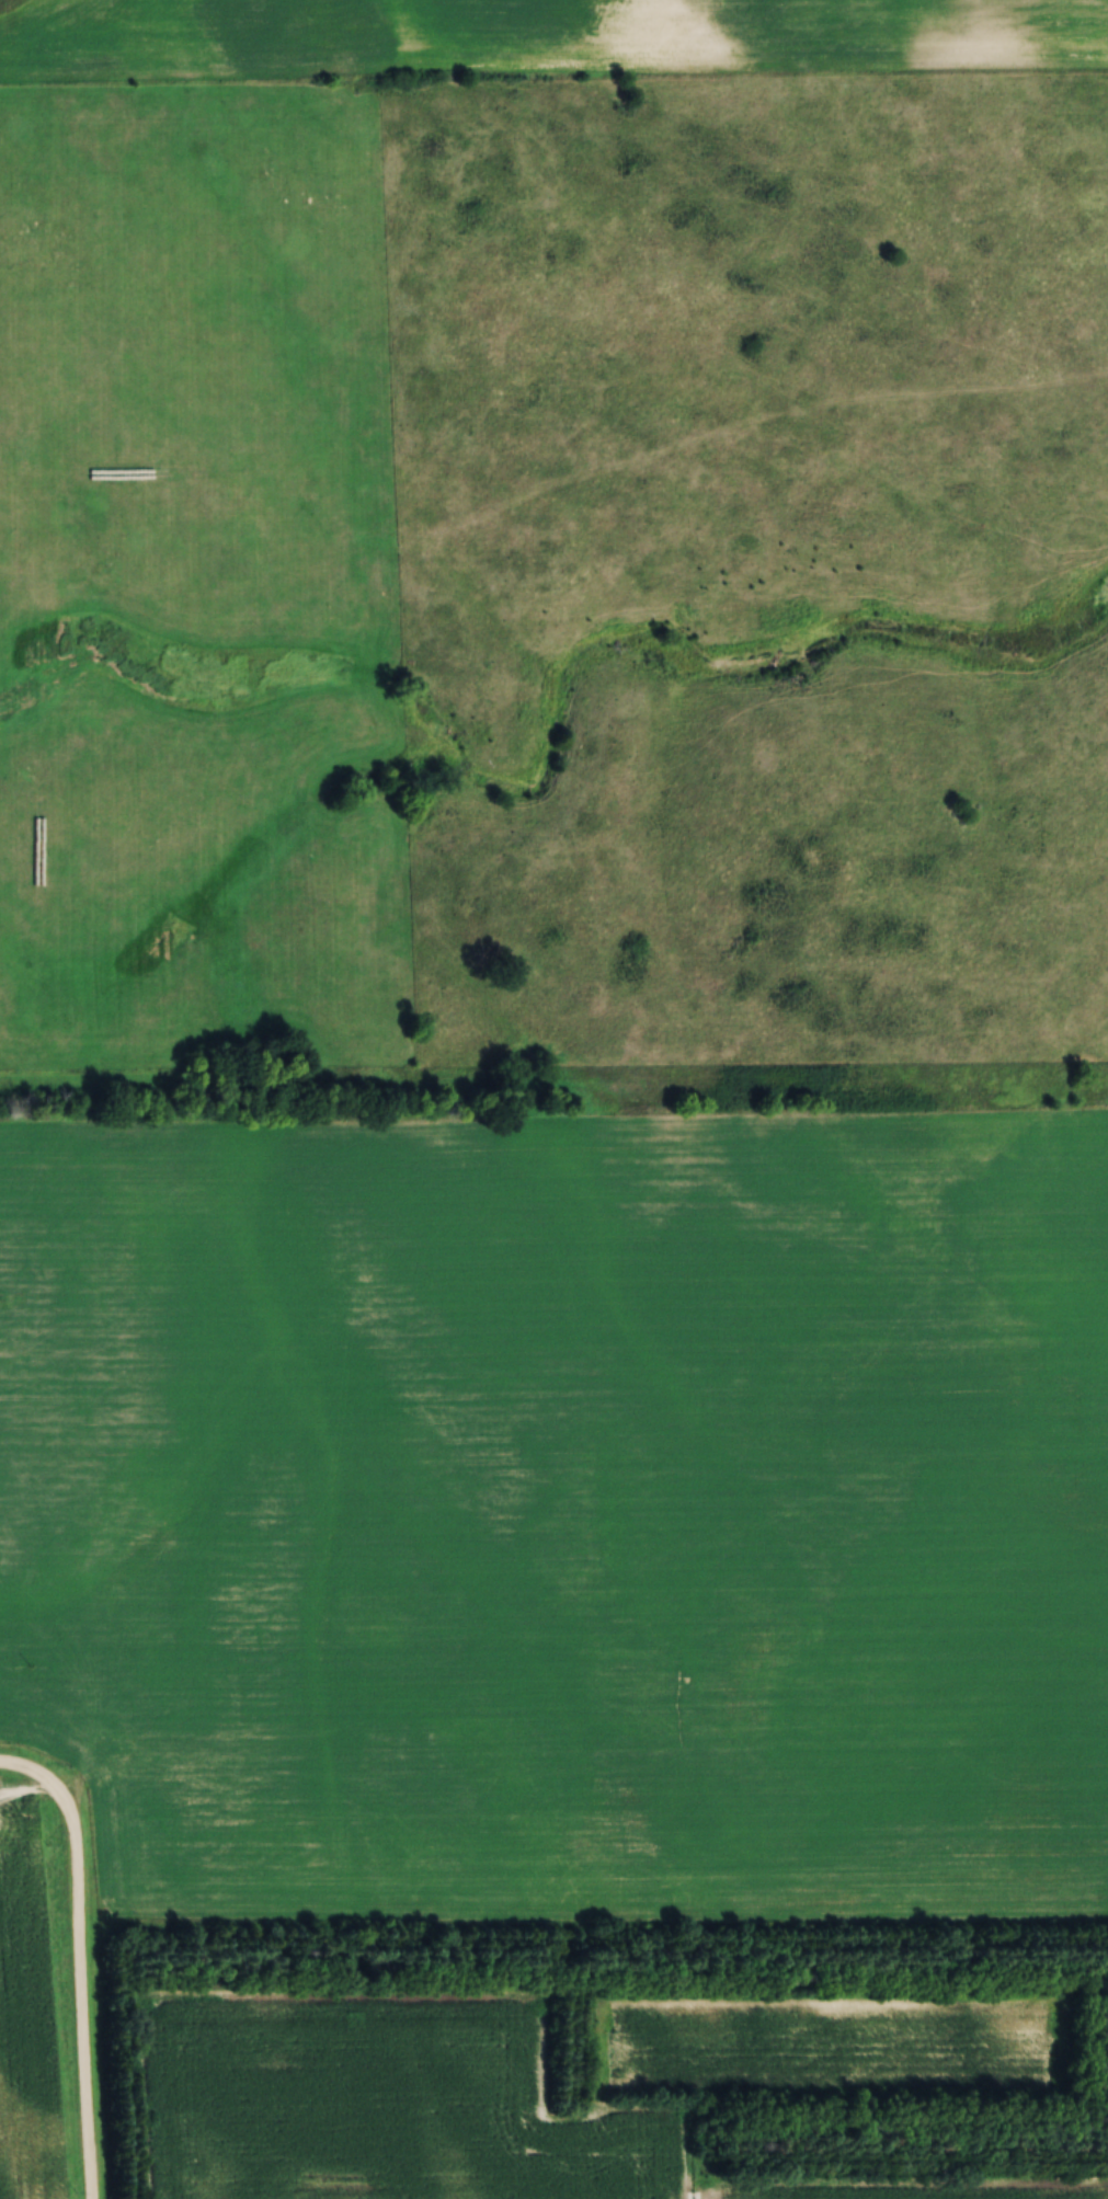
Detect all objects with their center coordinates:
road: (80, 1960)

